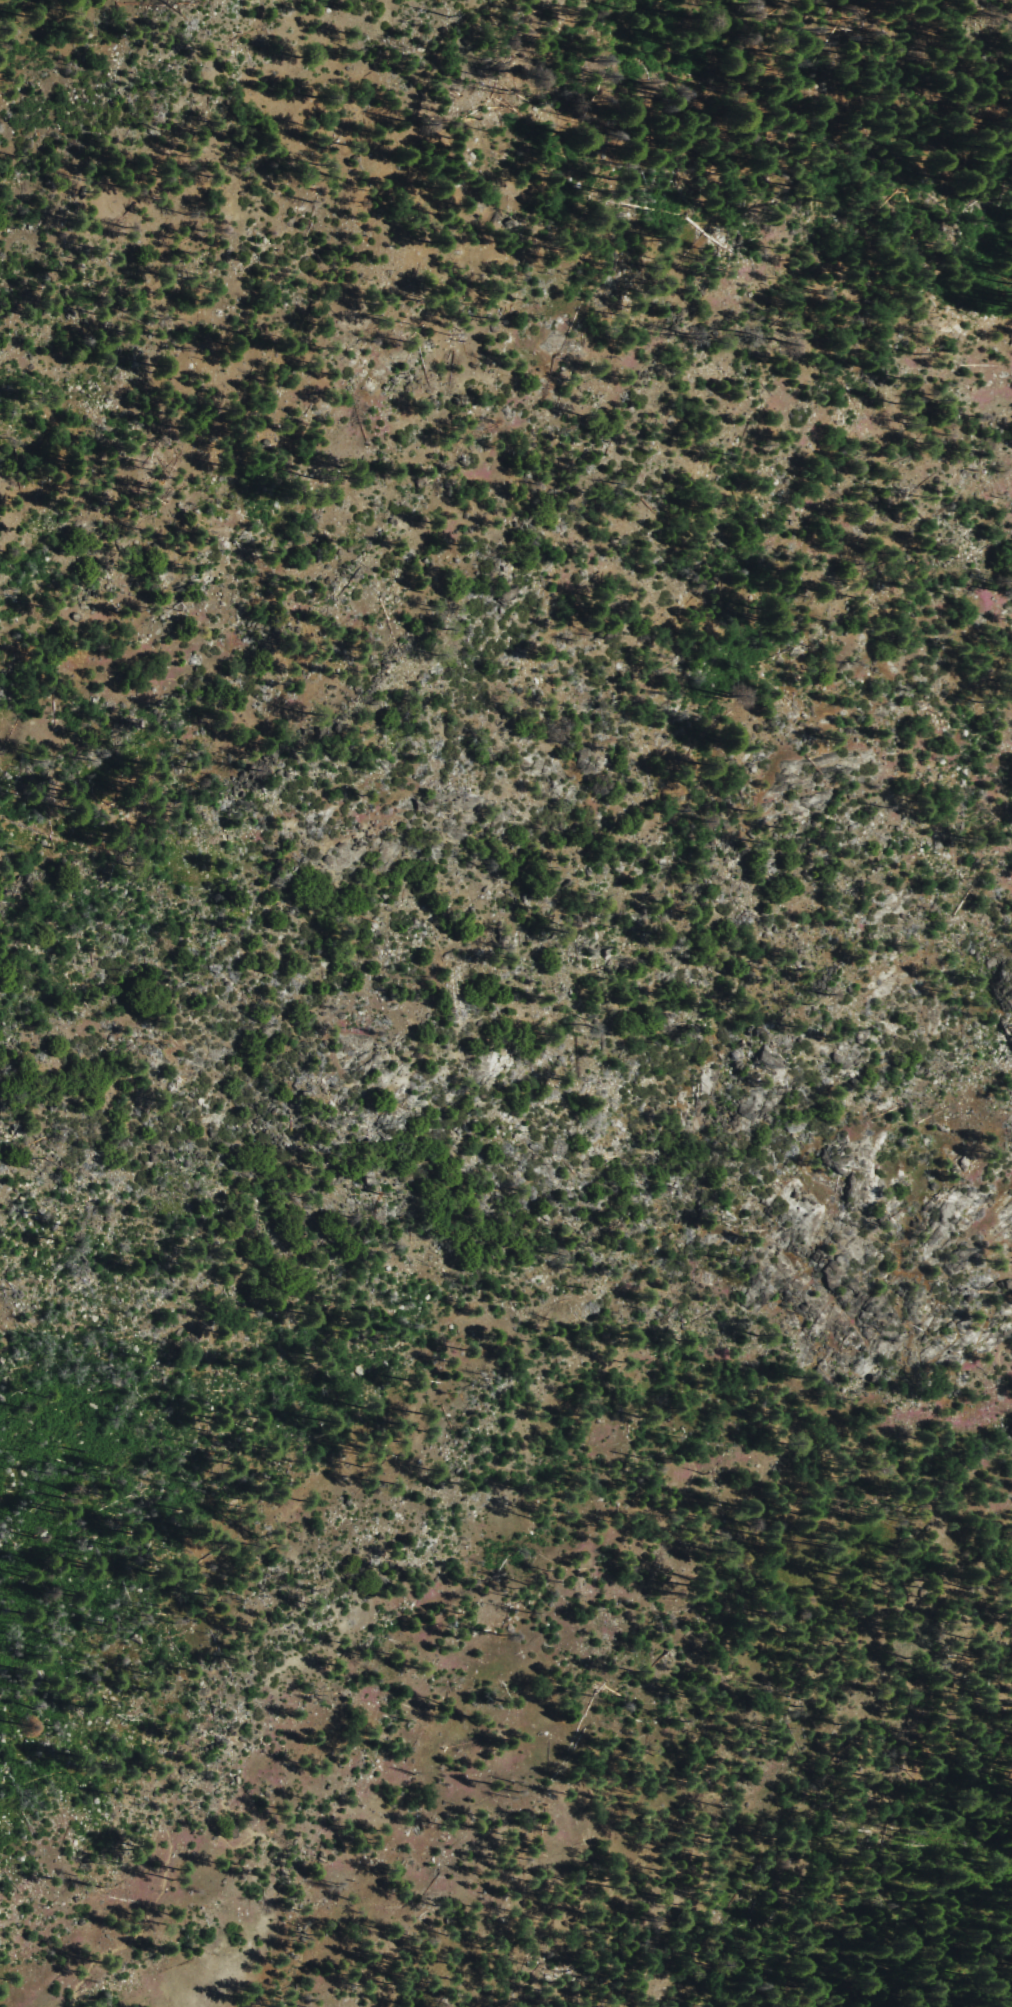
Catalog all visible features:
road: (730, 1809)

